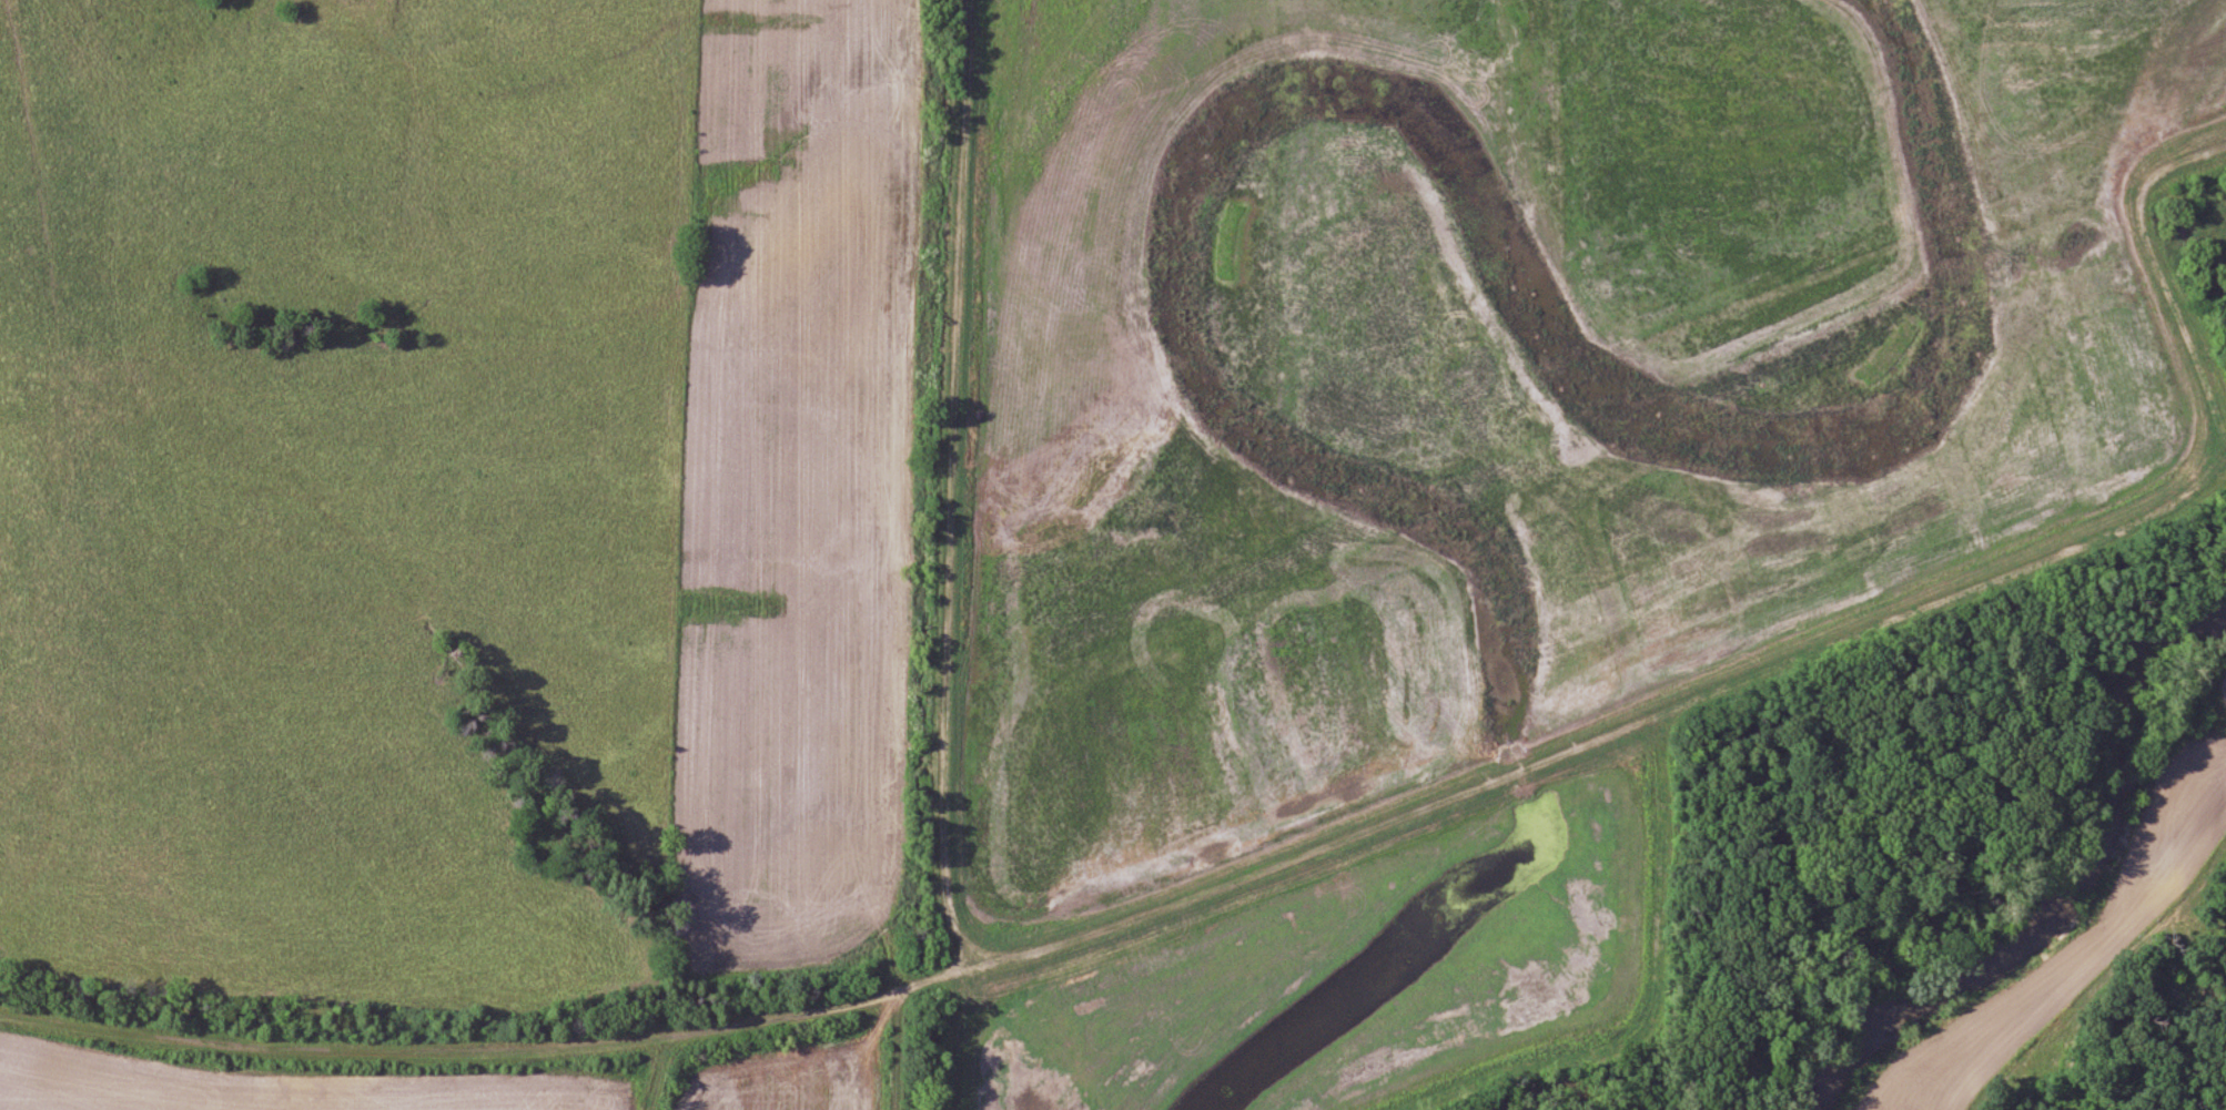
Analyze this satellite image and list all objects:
river: (2061, 895)

